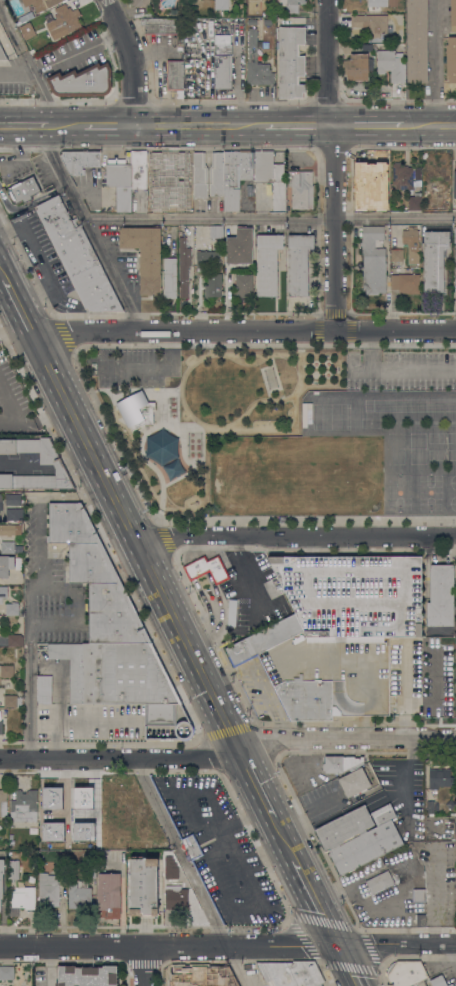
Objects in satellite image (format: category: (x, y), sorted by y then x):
building: (140, 3)
building: (41, 4)
building: (220, 4)
building: (291, 5)
building: (375, 6)
building: (453, 15)
building: (24, 16)
building: (64, 21)
building: (370, 23)
building: (161, 25)
building: (27, 30)
building: (417, 41)
building: (367, 47)
road: (79, 51)
building: (2, 54)
building: (451, 59)
road: (136, 60)
building: (222, 62)
building: (291, 62)
building: (107, 63)
road: (435, 63)
road: (32, 64)
building: (256, 64)
building: (390, 65)
building: (357, 66)
road: (19, 74)
building: (175, 76)
building: (75, 80)
building: (356, 89)
road: (23, 126)
road: (201, 126)
road: (298, 126)
road: (368, 126)
road: (430, 126)
road: (66, 127)
road: (111, 127)
building: (80, 160)
building: (246, 165)
road: (335, 165)
building: (154, 167)
building: (139, 169)
building: (435, 171)
building: (217, 174)
building: (402, 176)
building: (271, 177)
building: (190, 178)
building: (375, 178)
building: (232, 181)
building: (120, 182)
building: (301, 189)
building: (455, 189)
building: (21, 191)
building: (415, 202)
building: (445, 202)
building: (369, 204)
road: (270, 220)
road: (89, 229)
building: (216, 232)
building: (411, 243)
building: (240, 246)
building: (454, 252)
building: (145, 255)
building: (397, 255)
building: (77, 257)
building: (207, 259)
building: (434, 259)
building: (373, 260)
road: (41, 262)
building: (298, 263)
building: (268, 264)
building: (184, 267)
road: (3, 270)
building: (170, 277)
road: (3, 278)
building: (405, 283)
building: (214, 285)
building: (244, 286)
road: (19, 304)
road: (244, 332)
road: (398, 367)
park: (201, 406)
building: (136, 409)
road: (25, 423)
road: (77, 455)
building: (51, 462)
road: (57, 462)
road: (26, 465)
park: (296, 475)
building: (13, 499)
building: (0, 501)
road: (39, 507)
building: (14, 514)
building: (10, 529)
road: (295, 538)
road: (137, 540)
road: (192, 542)
road: (177, 544)
road: (241, 544)
building: (8, 546)
building: (9, 564)
building: (455, 566)
building: (207, 568)
building: (95, 576)
road: (200, 591)
road: (215, 592)
building: (3, 593)
parking lot: (252, 593)
building: (354, 594)
building: (441, 595)
road: (265, 602)
building: (12, 609)
road: (30, 612)
building: (231, 613)
road: (218, 634)
building: (15, 640)
building: (263, 640)
road: (200, 643)
building: (342, 670)
building: (7, 671)
building: (376, 676)
building: (119, 677)
building: (299, 679)
building: (441, 687)
building: (44, 689)
building: (13, 701)
road: (75, 718)
building: (1, 727)
road: (347, 741)
road: (121, 761)
building: (341, 763)
building: (440, 778)
building: (358, 785)
road: (261, 787)
building: (83, 801)
building: (118, 802)
building: (3, 803)
building: (54, 803)
building: (25, 806)
building: (383, 814)
building: (141, 822)
building: (344, 828)
building: (52, 830)
building: (94, 830)
road: (289, 840)
building: (11, 842)
building: (192, 846)
building: (366, 847)
road: (179, 850)
building: (455, 851)
building: (61, 862)
building: (13, 870)
building: (92, 871)
building: (172, 875)
building: (384, 879)
building: (1, 880)
building: (144, 886)
building: (49, 889)
building: (109, 891)
building: (79, 895)
building: (419, 895)
building: (177, 898)
road: (319, 898)
building: (22, 900)
building: (420, 920)
road: (227, 941)
road: (451, 951)
road: (233, 963)
road: (352, 963)
road: (49, 965)
road: (142, 965)
building: (7, 972)
building: (291, 973)
building: (406, 973)
building: (87, 976)
building: (191, 977)
building: (226, 977)
building: (439, 981)
building: (421, 984)
building: (320, 985)
building: (451, 985)

